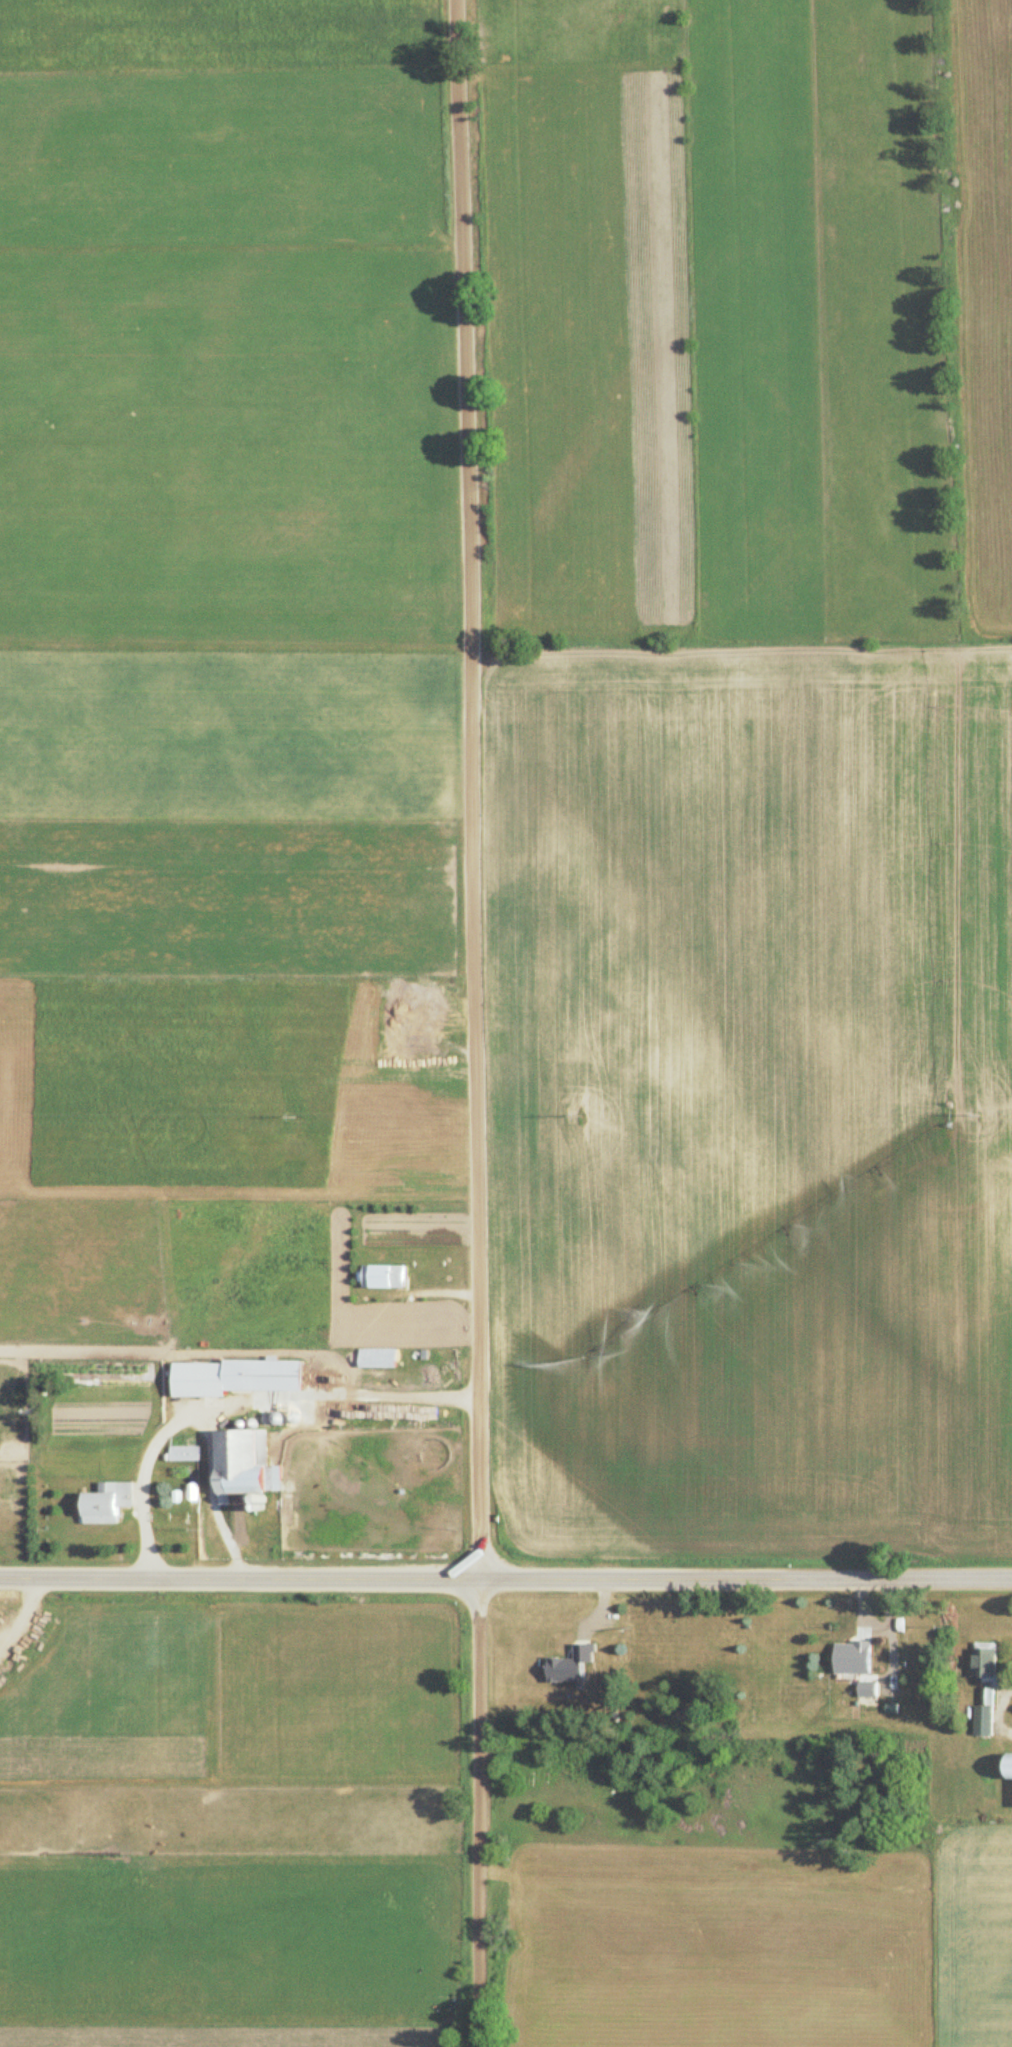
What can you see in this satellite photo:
road: (471, 1023)
building: (380, 1276)
building: (241, 1378)
road: (180, 1415)
building: (181, 1453)
building: (239, 1464)
building: (102, 1503)
road: (505, 1573)
road: (25, 1614)
building: (555, 1651)
building: (981, 1662)
building: (850, 1672)
road: (996, 1711)
building: (981, 1713)
building: (1006, 1765)

